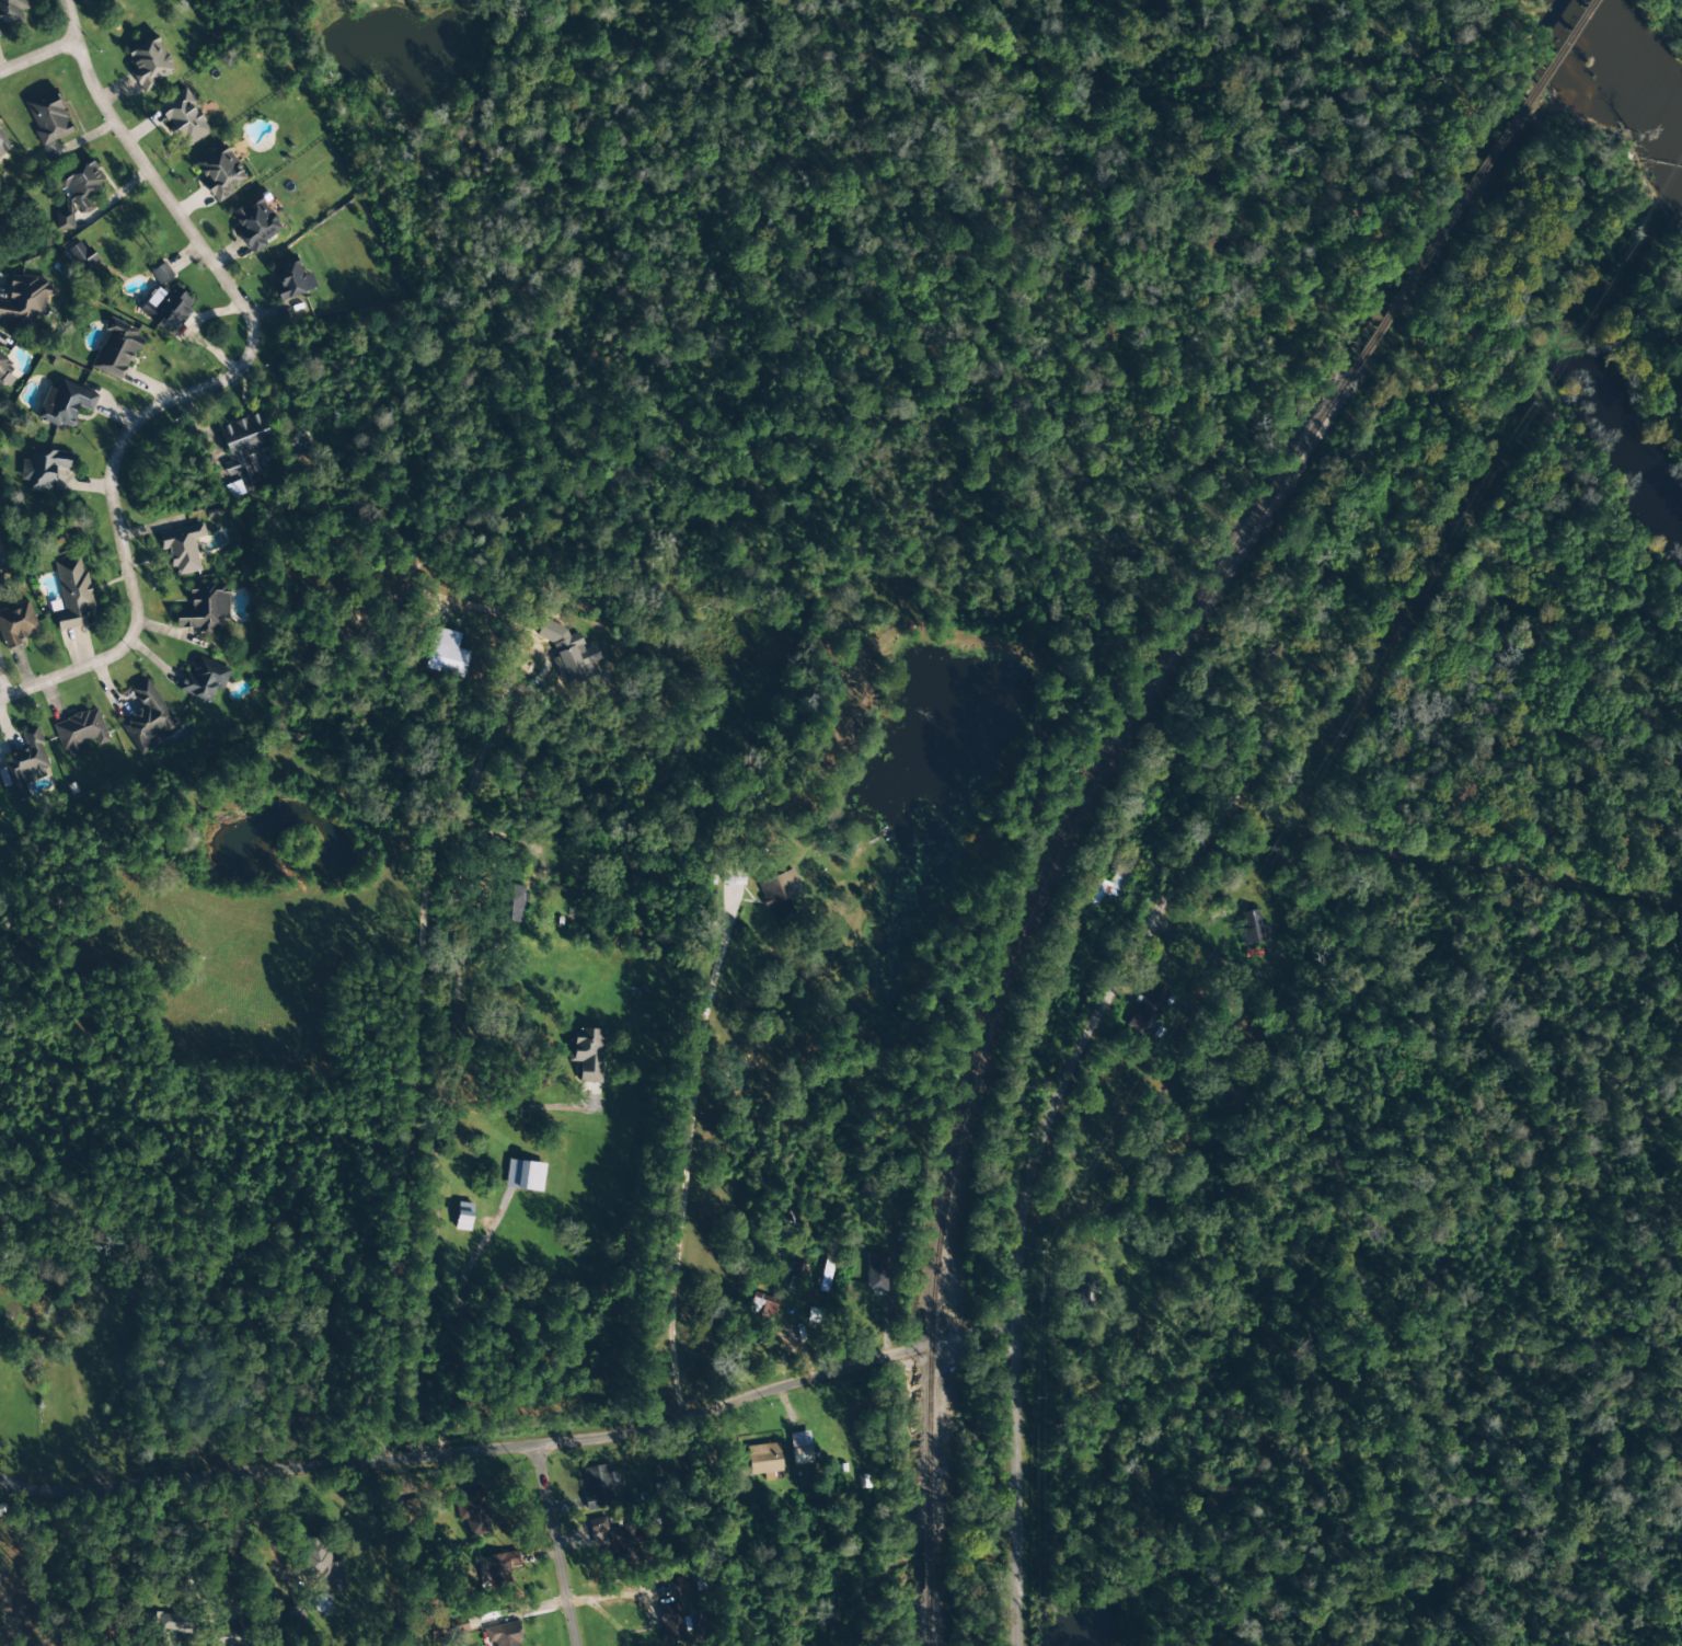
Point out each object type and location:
building: (11, 12)
building: (0, 33)
road: (37, 59)
building: (148, 62)
building: (48, 118)
building: (183, 118)
building: (3, 145)
building: (219, 173)
railway: (1472, 188)
building: (77, 192)
building: (255, 225)
building: (81, 256)
building: (161, 274)
building: (290, 281)
building: (24, 301)
building: (166, 309)
building: (116, 350)
building: (4, 368)
road: (211, 384)
building: (65, 404)
building: (245, 449)
building: (43, 468)
building: (182, 548)
building: (72, 595)
building: (205, 609)
building: (16, 624)
building: (447, 654)
building: (571, 655)
building: (204, 679)
building: (148, 720)
building: (79, 732)
building: (25, 764)
road: (1194, 851)
building: (1106, 886)
building: (779, 893)
building: (511, 903)
railway: (1023, 917)
building: (1252, 928)
building: (1147, 1010)
building: (586, 1054)
road: (365, 1143)
building: (525, 1175)
road: (678, 1175)
building: (866, 1190)
road: (1178, 1194)
building: (463, 1217)
building: (797, 1271)
building: (876, 1273)
building: (1080, 1288)
building: (761, 1307)
road: (516, 1447)
building: (800, 1448)
building: (764, 1460)
building: (598, 1485)
road: (1014, 1487)
building: (473, 1510)
building: (619, 1541)
road: (566, 1543)
road: (42, 1563)
building: (322, 1563)
railway: (926, 1566)
building: (496, 1570)
railway: (925, 1621)
building: (172, 1623)
building: (669, 1624)
building: (453, 1627)
building: (503, 1635)
building: (224, 1637)

